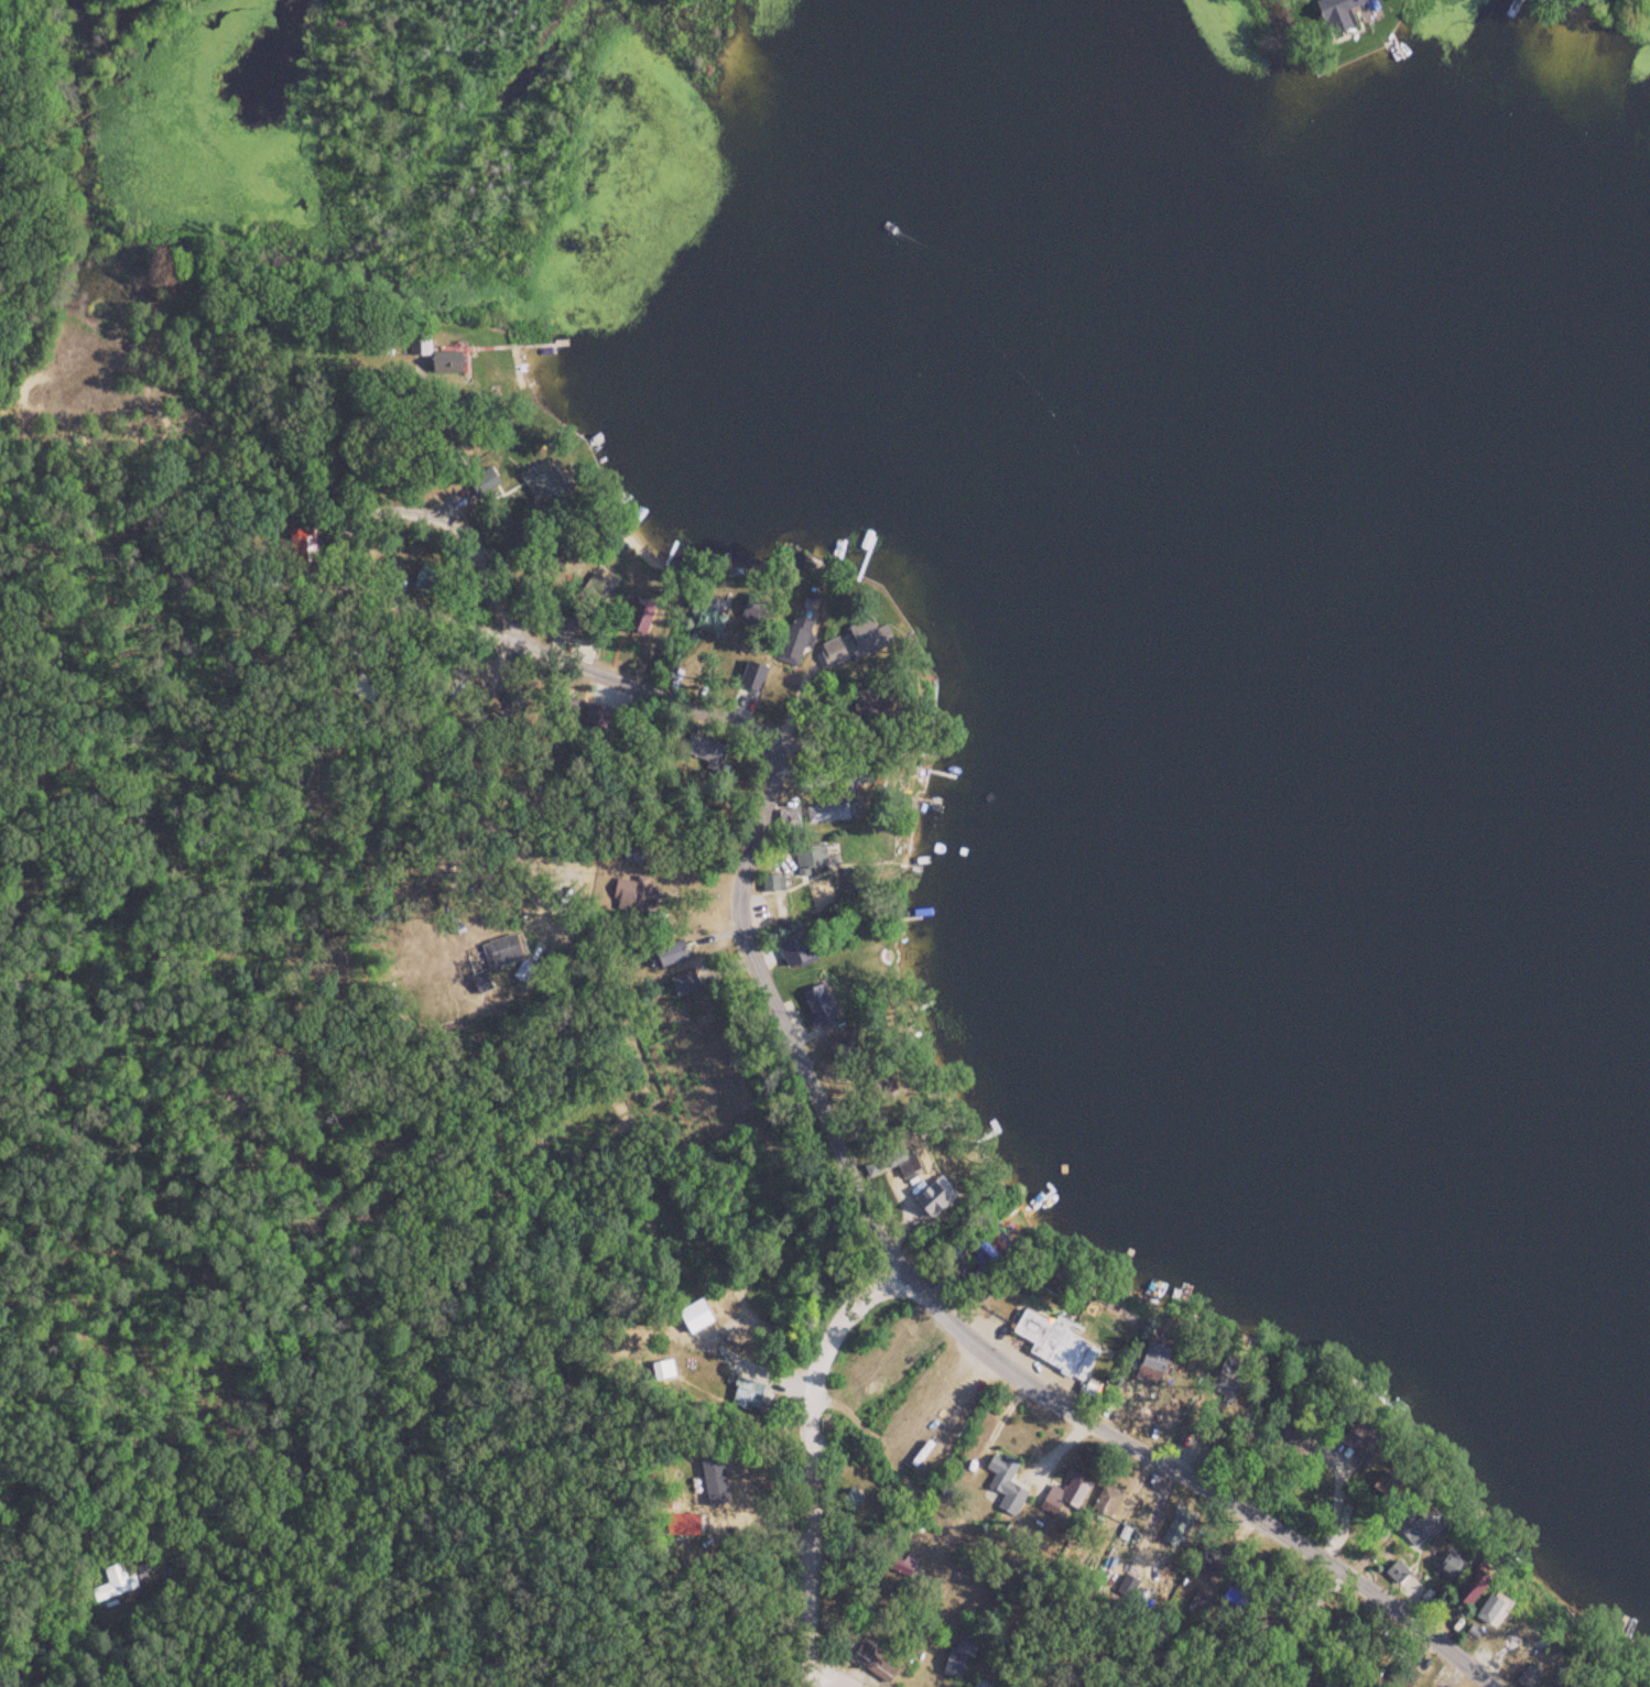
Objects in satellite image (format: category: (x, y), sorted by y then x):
building: (419, 347)
building: (447, 363)
building: (546, 487)
road: (540, 572)
road: (434, 589)
building: (850, 645)
building: (693, 745)
building: (825, 813)
building: (823, 1008)
road: (873, 1225)
road: (901, 1237)
building: (1053, 1345)
building: (1153, 1363)
road: (792, 1447)
building: (1003, 1483)
road: (977, 1526)
road: (267, 1561)
building: (113, 1585)
road: (1271, 1618)
road: (837, 1661)
road: (133, 1664)
building: (953, 1665)
road: (1229, 1681)

